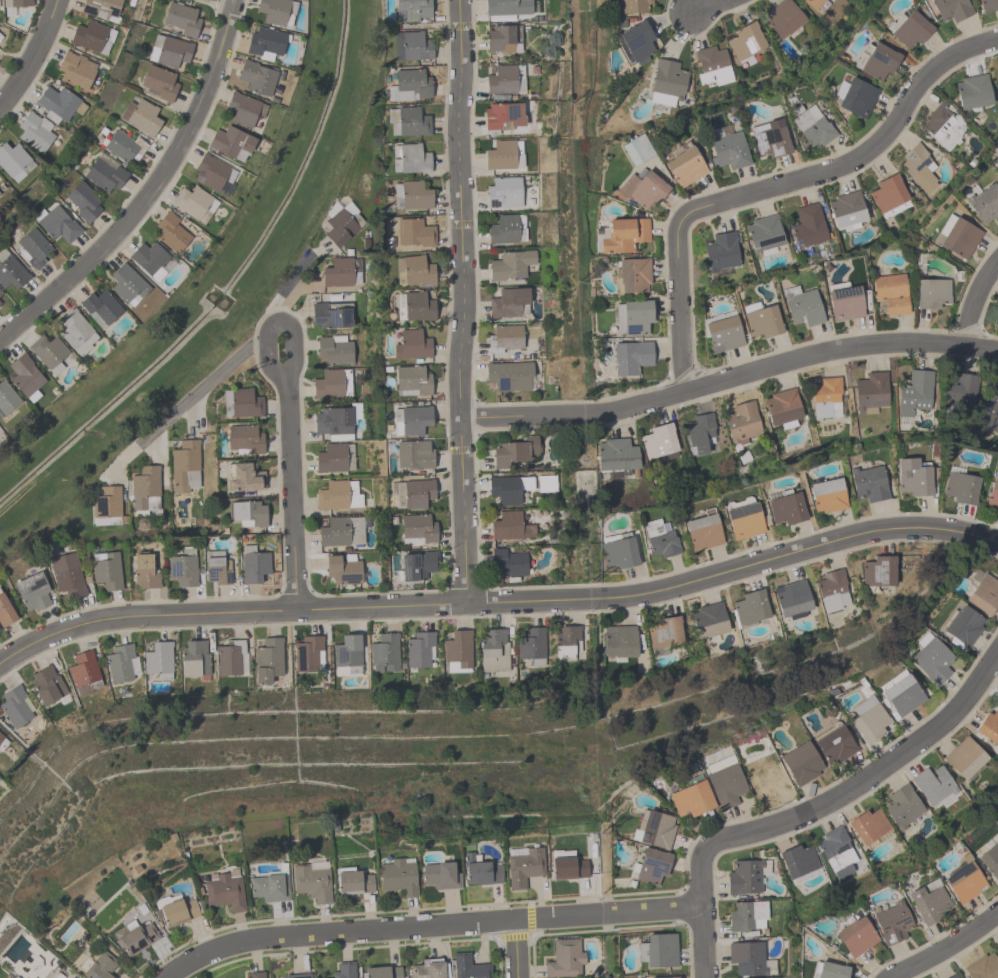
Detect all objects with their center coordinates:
road: (234, 0)
building: (16, 3)
building: (813, 3)
building: (988, 5)
building: (633, 6)
road: (689, 8)
road: (707, 8)
building: (101, 9)
building: (506, 9)
building: (951, 9)
building: (411, 10)
building: (276, 11)
building: (783, 17)
building: (182, 19)
building: (911, 30)
building: (92, 37)
building: (503, 38)
building: (745, 42)
building: (265, 43)
building: (634, 43)
building: (412, 46)
building: (169, 51)
road: (32, 54)
building: (876, 61)
building: (712, 66)
building: (75, 70)
building: (996, 74)
building: (257, 77)
building: (505, 79)
building: (159, 82)
building: (667, 82)
building: (409, 85)
building: (973, 91)
building: (855, 97)
building: (58, 104)
building: (244, 109)
building: (503, 115)
building: (140, 116)
building: (408, 121)
building: (944, 124)
building: (813, 126)
building: (35, 131)
building: (770, 138)
building: (231, 143)
building: (123, 146)
building: (727, 148)
building: (636, 149)
building: (504, 155)
building: (410, 158)
building: (14, 161)
building: (996, 164)
building: (684, 166)
building: (918, 167)
building: (997, 171)
building: (212, 172)
building: (105, 175)
road: (778, 185)
building: (642, 188)
road: (150, 191)
building: (1, 192)
building: (503, 192)
building: (411, 195)
building: (889, 196)
building: (84, 201)
building: (194, 203)
building: (985, 203)
building: (846, 211)
building: (341, 222)
building: (56, 224)
building: (808, 226)
building: (506, 229)
building: (170, 232)
building: (414, 232)
building: (764, 232)
building: (620, 235)
building: (960, 237)
building: (34, 247)
building: (720, 251)
building: (149, 259)
building: (510, 265)
building: (413, 270)
building: (10, 271)
building: (340, 273)
building: (631, 275)
road: (291, 280)
building: (127, 285)
park: (205, 285)
building: (0, 292)
building: (891, 292)
building: (931, 292)
building: (1, 299)
building: (844, 300)
road: (458, 301)
road: (975, 301)
building: (509, 302)
building: (802, 305)
building: (414, 306)
building: (100, 307)
building: (331, 315)
building: (633, 317)
building: (761, 319)
building: (76, 332)
building: (723, 334)
building: (506, 336)
building: (411, 344)
building: (334, 350)
building: (48, 352)
building: (630, 357)
building: (509, 375)
building: (24, 377)
road: (728, 378)
building: (411, 380)
building: (332, 384)
building: (960, 390)
building: (870, 391)
building: (914, 392)
building: (826, 397)
building: (7, 398)
road: (185, 401)
building: (241, 403)
building: (782, 408)
building: (990, 409)
building: (412, 419)
road: (288, 420)
building: (336, 421)
building: (742, 422)
building: (699, 433)
building: (244, 439)
building: (658, 441)
building: (515, 451)
building: (413, 454)
building: (616, 455)
building: (333, 458)
building: (185, 466)
building: (915, 476)
building: (244, 477)
building: (868, 483)
building: (960, 487)
building: (145, 488)
building: (508, 488)
building: (415, 492)
building: (337, 495)
building: (827, 495)
building: (992, 497)
building: (107, 506)
building: (785, 507)
building: (247, 513)
building: (743, 518)
building: (509, 526)
building: (417, 529)
building: (341, 531)
building: (703, 531)
building: (659, 539)
building: (618, 550)
building: (508, 562)
building: (253, 564)
building: (416, 565)
building: (182, 567)
building: (216, 568)
building: (343, 569)
building: (107, 571)
building: (144, 571)
building: (878, 571)
building: (66, 574)
building: (832, 590)
building: (31, 591)
building: (983, 594)
building: (792, 598)
road: (498, 600)
building: (749, 607)
building: (5, 612)
building: (708, 620)
building: (962, 624)
building: (663, 632)
building: (618, 641)
building: (567, 642)
building: (532, 646)
building: (419, 650)
building: (493, 650)
building: (457, 651)
building: (384, 653)
building: (308, 654)
building: (347, 656)
building: (231, 658)
building: (932, 658)
building: (194, 659)
building: (267, 659)
building: (158, 660)
building: (119, 663)
building: (84, 670)
building: (47, 685)
building: (901, 692)
building: (15, 706)
building: (868, 718)
building: (989, 726)
building: (2, 743)
building: (834, 743)
building: (964, 757)
building: (800, 763)
building: (767, 779)
building: (723, 782)
building: (933, 785)
road: (843, 791)
building: (691, 797)
building: (902, 806)
building: (868, 826)
building: (654, 829)
building: (836, 851)
building: (990, 859)
building: (798, 860)
building: (567, 865)
building: (652, 865)
building: (524, 867)
building: (479, 870)
building: (398, 876)
building: (440, 876)
building: (746, 876)
building: (311, 880)
building: (352, 881)
building: (964, 882)
building: (270, 886)
building: (224, 892)
building: (928, 901)
building: (176, 911)
building: (747, 916)
building: (892, 923)
road: (428, 925)
building: (133, 936)
building: (856, 936)
road: (702, 941)
building: (997, 946)
road: (944, 947)
road: (515, 948)
building: (997, 948)
building: (658, 950)
building: (564, 958)
building: (749, 959)
building: (97, 966)
building: (469, 967)
building: (982, 967)
building: (428, 969)
building: (344, 970)
building: (831, 970)
building: (382, 972)
building: (256, 974)
building: (297, 975)
building: (58, 976)
building: (952, 976)
building: (662, 977)

